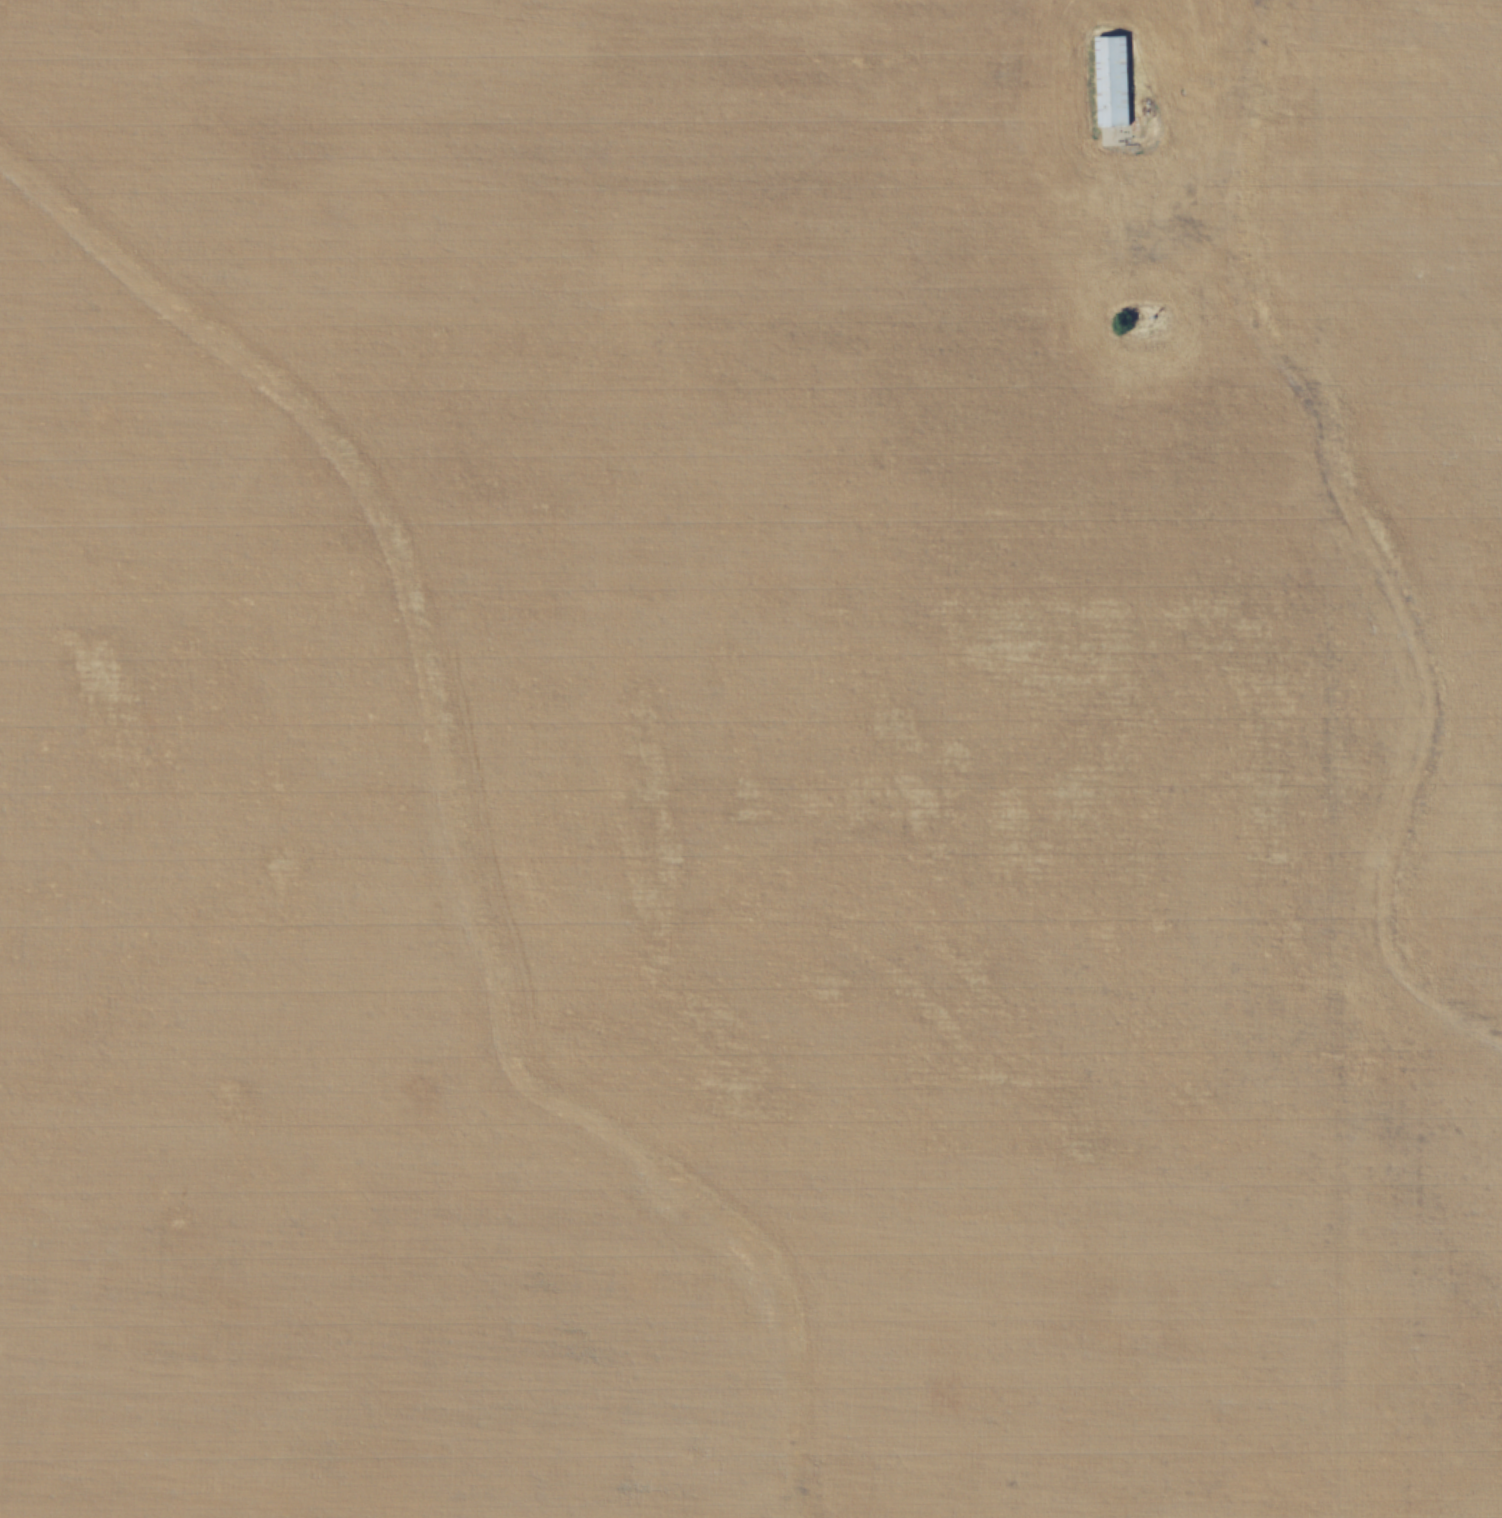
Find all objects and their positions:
building: (1109, 79)

